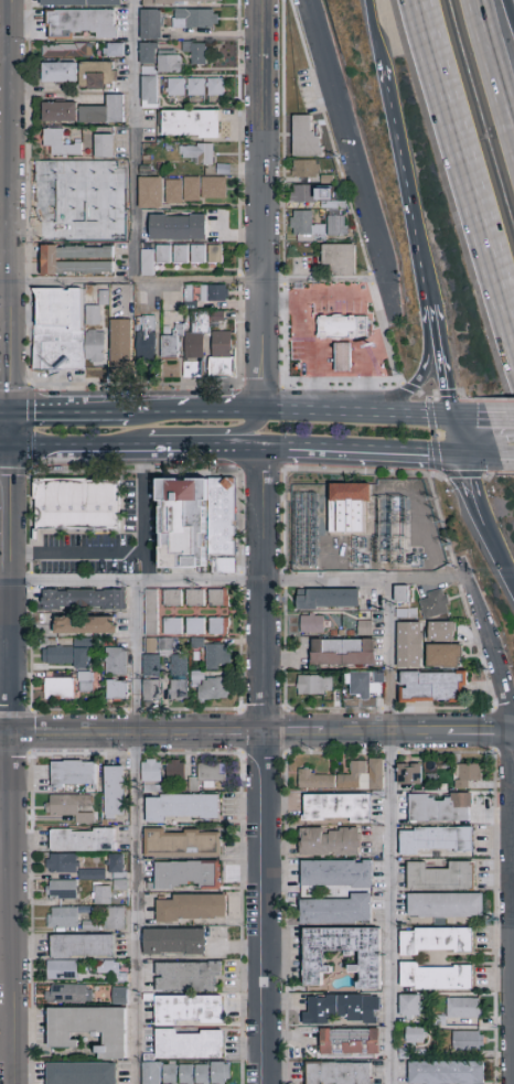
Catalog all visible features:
building: (181, 0)
building: (82, 2)
road: (507, 14)
building: (193, 17)
building: (81, 22)
building: (150, 23)
road: (375, 33)
building: (114, 49)
building: (66, 50)
building: (194, 51)
building: (147, 52)
road: (495, 58)
building: (167, 60)
building: (57, 71)
building: (95, 73)
building: (174, 85)
building: (194, 85)
building: (214, 86)
building: (148, 90)
building: (121, 111)
building: (64, 114)
building: (98, 117)
building: (189, 122)
building: (304, 137)
road: (138, 142)
road: (260, 142)
building: (103, 144)
building: (63, 147)
building: (197, 152)
road: (400, 153)
road: (356, 159)
building: (304, 167)
building: (56, 169)
building: (88, 169)
road: (464, 169)
building: (117, 183)
building: (213, 186)
building: (191, 187)
building: (172, 190)
building: (149, 191)
building: (301, 193)
building: (56, 197)
building: (82, 197)
building: (85, 221)
building: (52, 222)
building: (115, 225)
building: (335, 225)
building: (176, 226)
building: (306, 226)
building: (162, 253)
building: (179, 253)
building: (196, 253)
building: (214, 253)
building: (339, 257)
building: (76, 259)
building: (147, 261)
road: (425, 273)
road: (325, 283)
road: (130, 285)
building: (213, 292)
road: (263, 292)
road: (354, 300)
building: (92, 314)
building: (216, 315)
building: (342, 329)
road: (317, 330)
building: (61, 332)
building: (202, 339)
road: (427, 341)
building: (150, 342)
building: (176, 344)
building: (94, 345)
building: (120, 345)
building: (226, 345)
road: (389, 352)
road: (264, 356)
building: (343, 358)
road: (370, 359)
road: (442, 362)
building: (192, 368)
road: (6, 411)
road: (69, 411)
road: (196, 411)
road: (358, 414)
road: (470, 416)
road: (500, 417)
road: (196, 433)
road: (458, 437)
road: (6, 449)
road: (24, 449)
road: (151, 450)
road: (277, 452)
road: (374, 454)
road: (481, 458)
road: (506, 459)
road: (469, 483)
road: (144, 500)
building: (78, 505)
building: (347, 506)
road: (439, 517)
building: (201, 522)
power substation: (367, 530)
road: (12, 541)
road: (95, 549)
road: (494, 549)
building: (226, 567)
road: (235, 579)
building: (326, 598)
building: (174, 599)
building: (197, 599)
building: (221, 599)
building: (87, 601)
building: (433, 603)
building: (153, 613)
building: (310, 624)
building: (89, 626)
building: (221, 626)
building: (174, 627)
building: (197, 627)
building: (364, 627)
building: (440, 630)
building: (85, 644)
building: (200, 644)
building: (409, 644)
building: (152, 646)
building: (169, 647)
road: (492, 650)
building: (342, 652)
building: (443, 655)
building: (61, 656)
building: (219, 657)
building: (85, 659)
building: (117, 662)
building: (181, 666)
building: (153, 667)
building: (199, 679)
building: (88, 683)
building: (314, 684)
building: (363, 686)
building: (431, 686)
building: (62, 689)
building: (217, 690)
building: (119, 691)
building: (153, 691)
building: (181, 691)
road: (256, 738)
road: (267, 768)
building: (75, 773)
building: (408, 773)
building: (214, 774)
building: (467, 774)
building: (153, 776)
building: (179, 776)
building: (344, 776)
building: (195, 784)
building: (116, 791)
building: (185, 806)
building: (73, 807)
building: (336, 807)
building: (439, 807)
road: (393, 831)
road: (133, 833)
building: (433, 839)
building: (85, 840)
building: (329, 841)
building: (183, 844)
building: (64, 863)
building: (118, 866)
building: (335, 872)
building: (94, 874)
building: (189, 874)
building: (440, 876)
building: (122, 886)
building: (64, 890)
building: (104, 895)
building: (445, 904)
building: (193, 906)
building: (335, 910)
building: (67, 917)
building: (115, 920)
power tower: (500, 922)
building: (94, 926)
building: (433, 940)
building: (176, 941)
building: (83, 946)
building: (368, 958)
building: (64, 970)
building: (114, 972)
building: (190, 977)
building: (433, 977)
building: (71, 995)
building: (121, 995)
building: (409, 1005)
building: (462, 1007)
building: (340, 1008)
building: (191, 1009)
building: (93, 1029)
building: (414, 1034)
building: (467, 1040)
building: (349, 1041)
building: (191, 1044)
building: (150, 1059)
building: (446, 1072)
building: (153, 1073)
building: (221, 1073)
building: (338, 1073)
building: (84, 1074)
building: (171, 1074)
building: (186, 1074)
building: (203, 1074)

